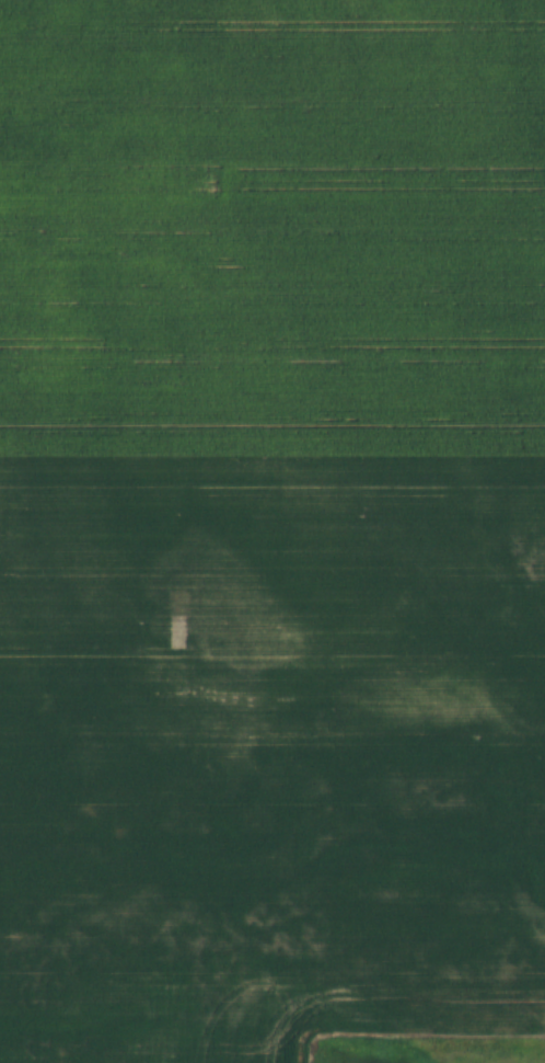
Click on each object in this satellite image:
crop: (270, 524)

